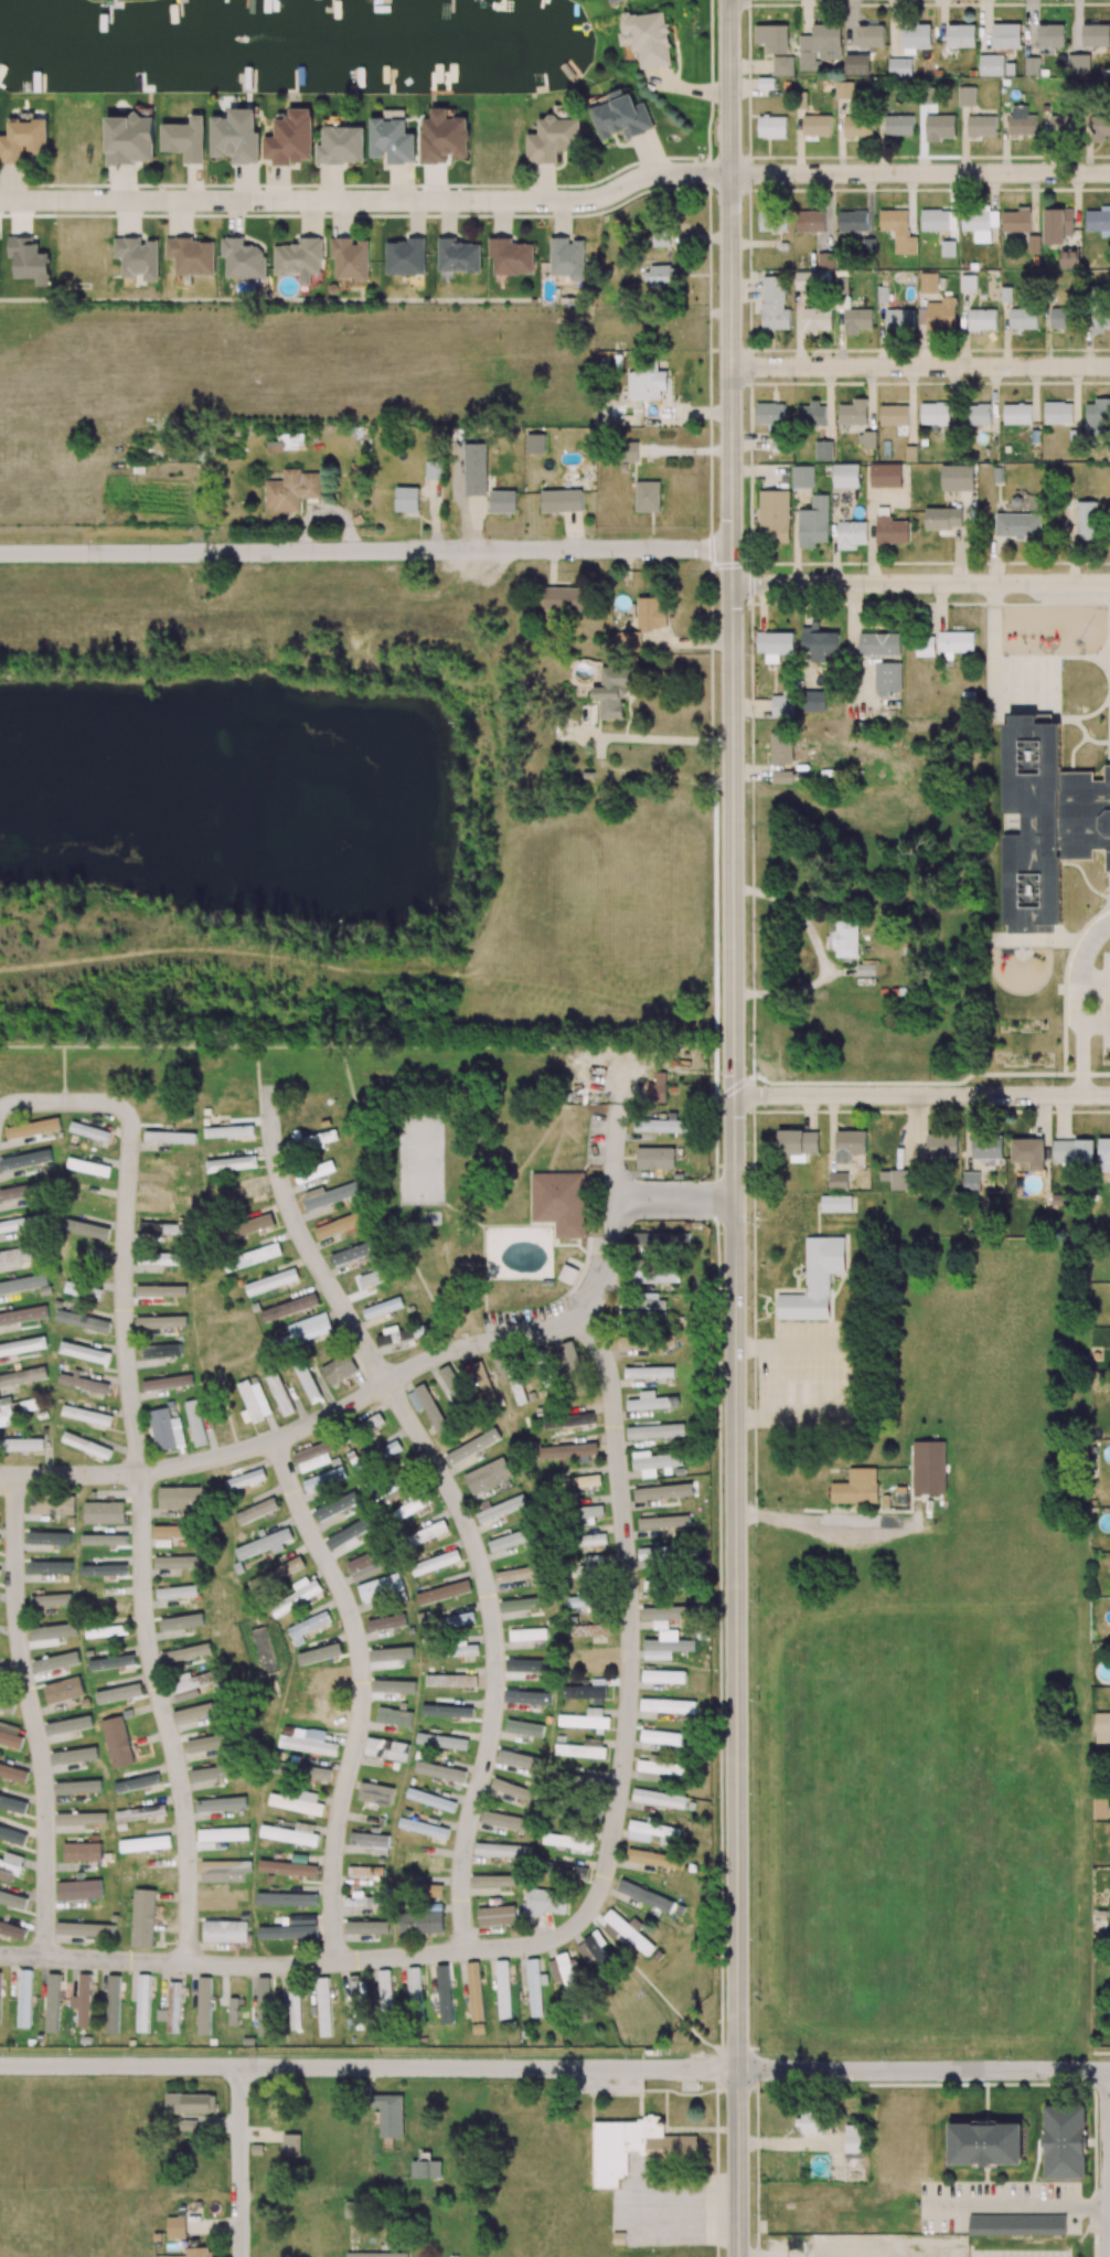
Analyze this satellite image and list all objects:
road: (919, 173)
road: (366, 201)
road: (919, 366)
road: (365, 551)
road: (920, 583)
road: (657, 739)
road: (820, 954)
road: (1097, 977)
road: (1080, 1004)
road: (1096, 1023)
road: (921, 1096)
road: (733, 1128)
road: (674, 1201)
road: (615, 1217)
road: (125, 1224)
road: (312, 1253)
road: (847, 1377)
road: (297, 1429)
road: (794, 1521)
road: (629, 1622)
road: (495, 1656)
road: (362, 1693)
road: (32, 1715)
road: (164, 1716)
road: (522, 1946)
road: (232, 1965)
road: (555, 2067)
road: (239, 2161)
road: (1109, 2196)
road: (1016, 2204)

